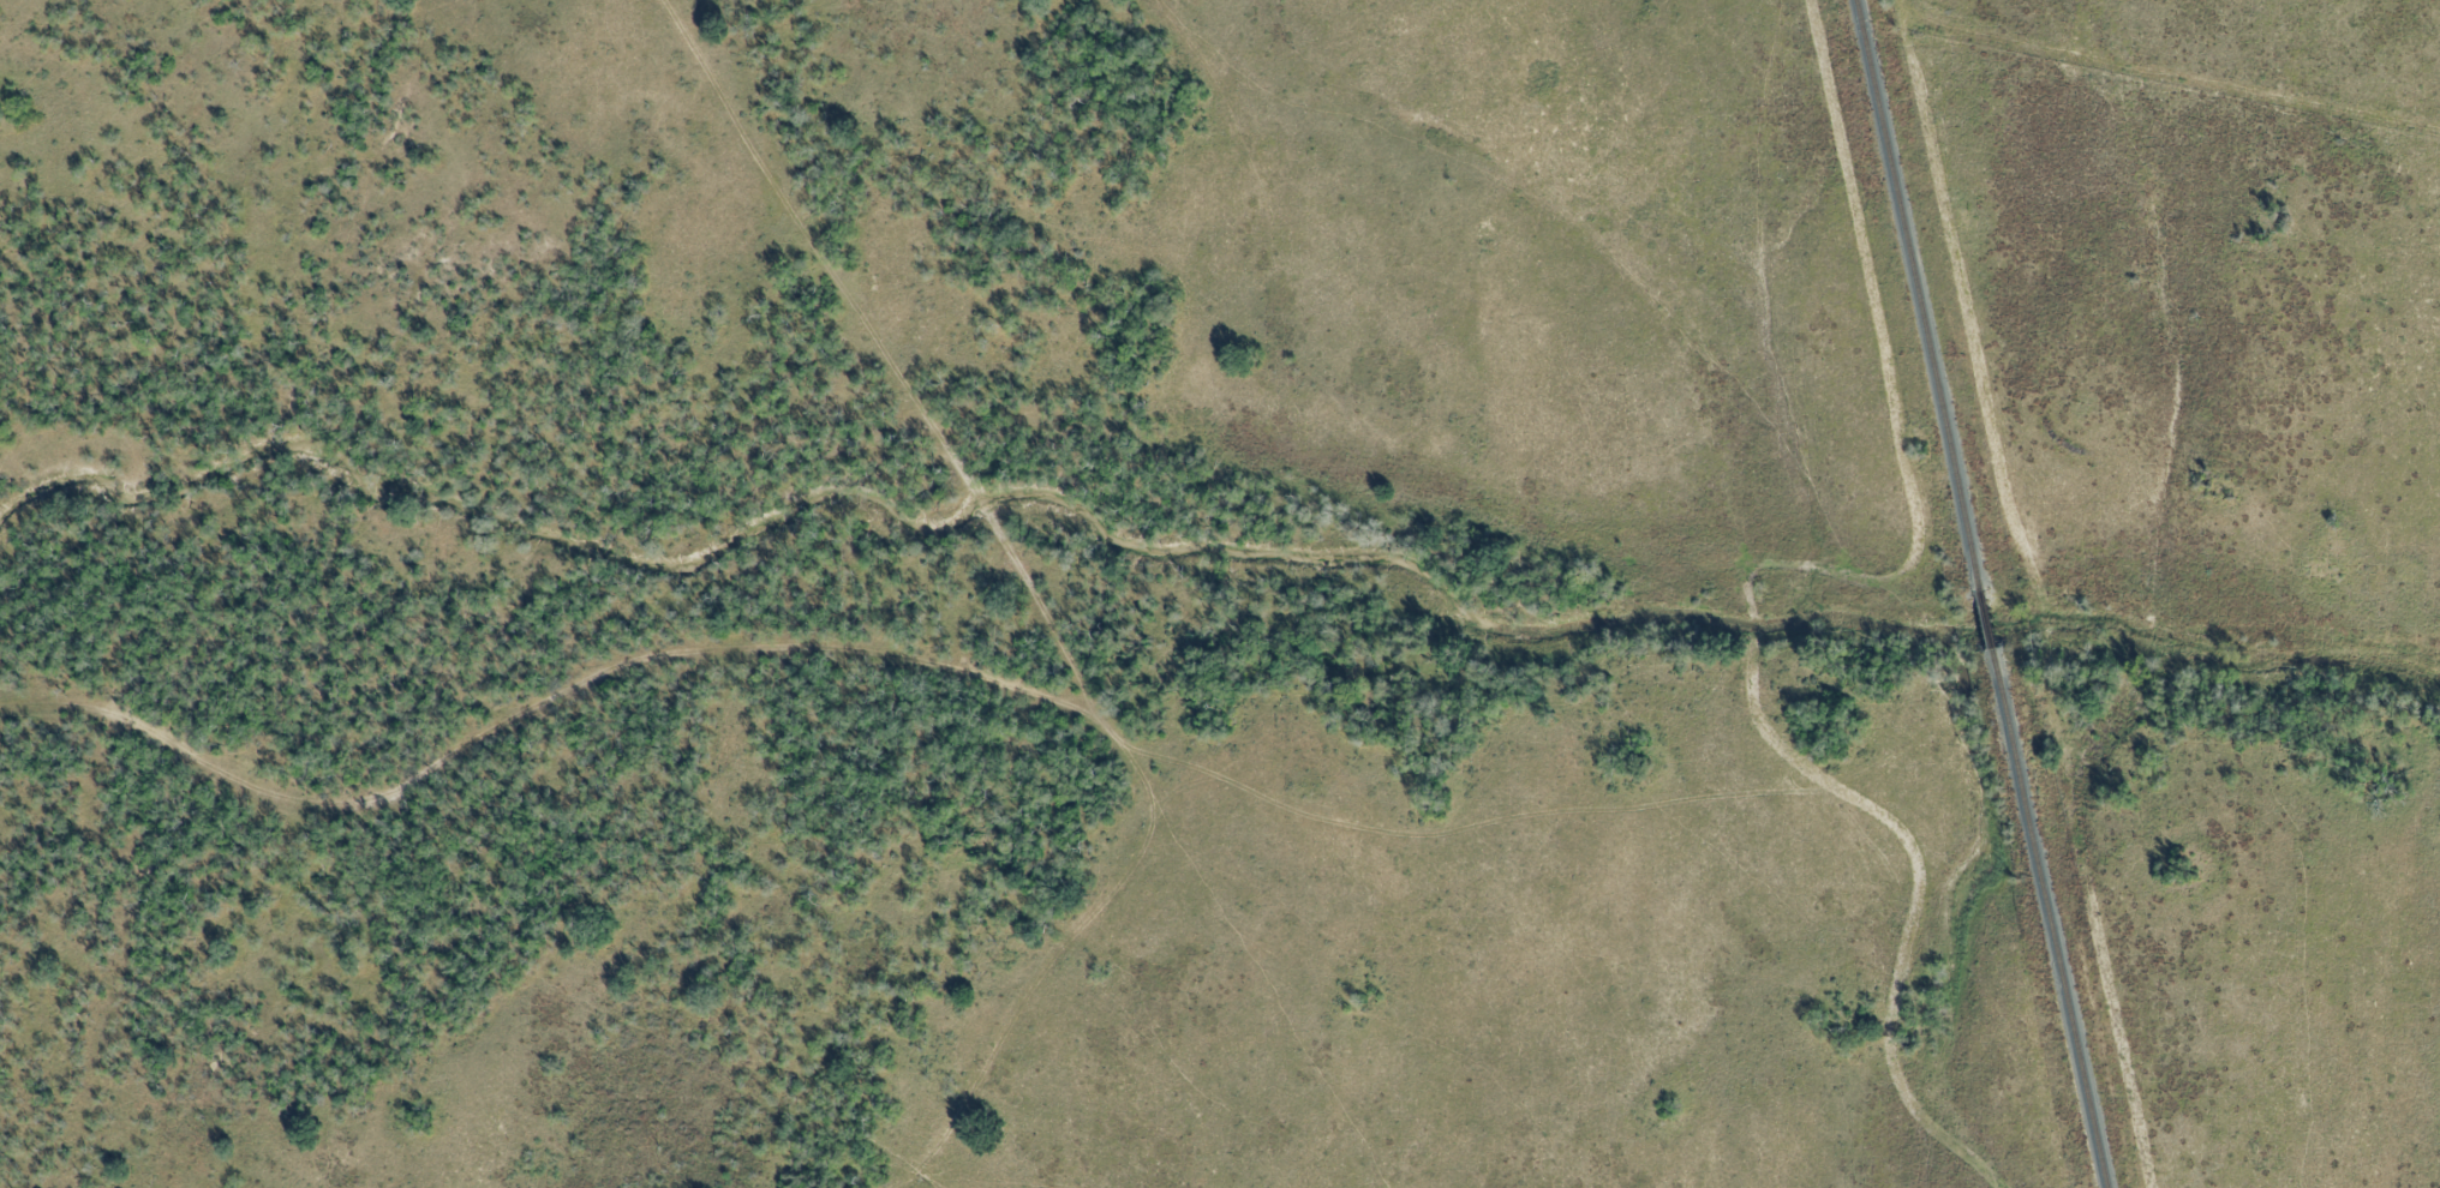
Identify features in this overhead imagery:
railway: (1979, 594)

